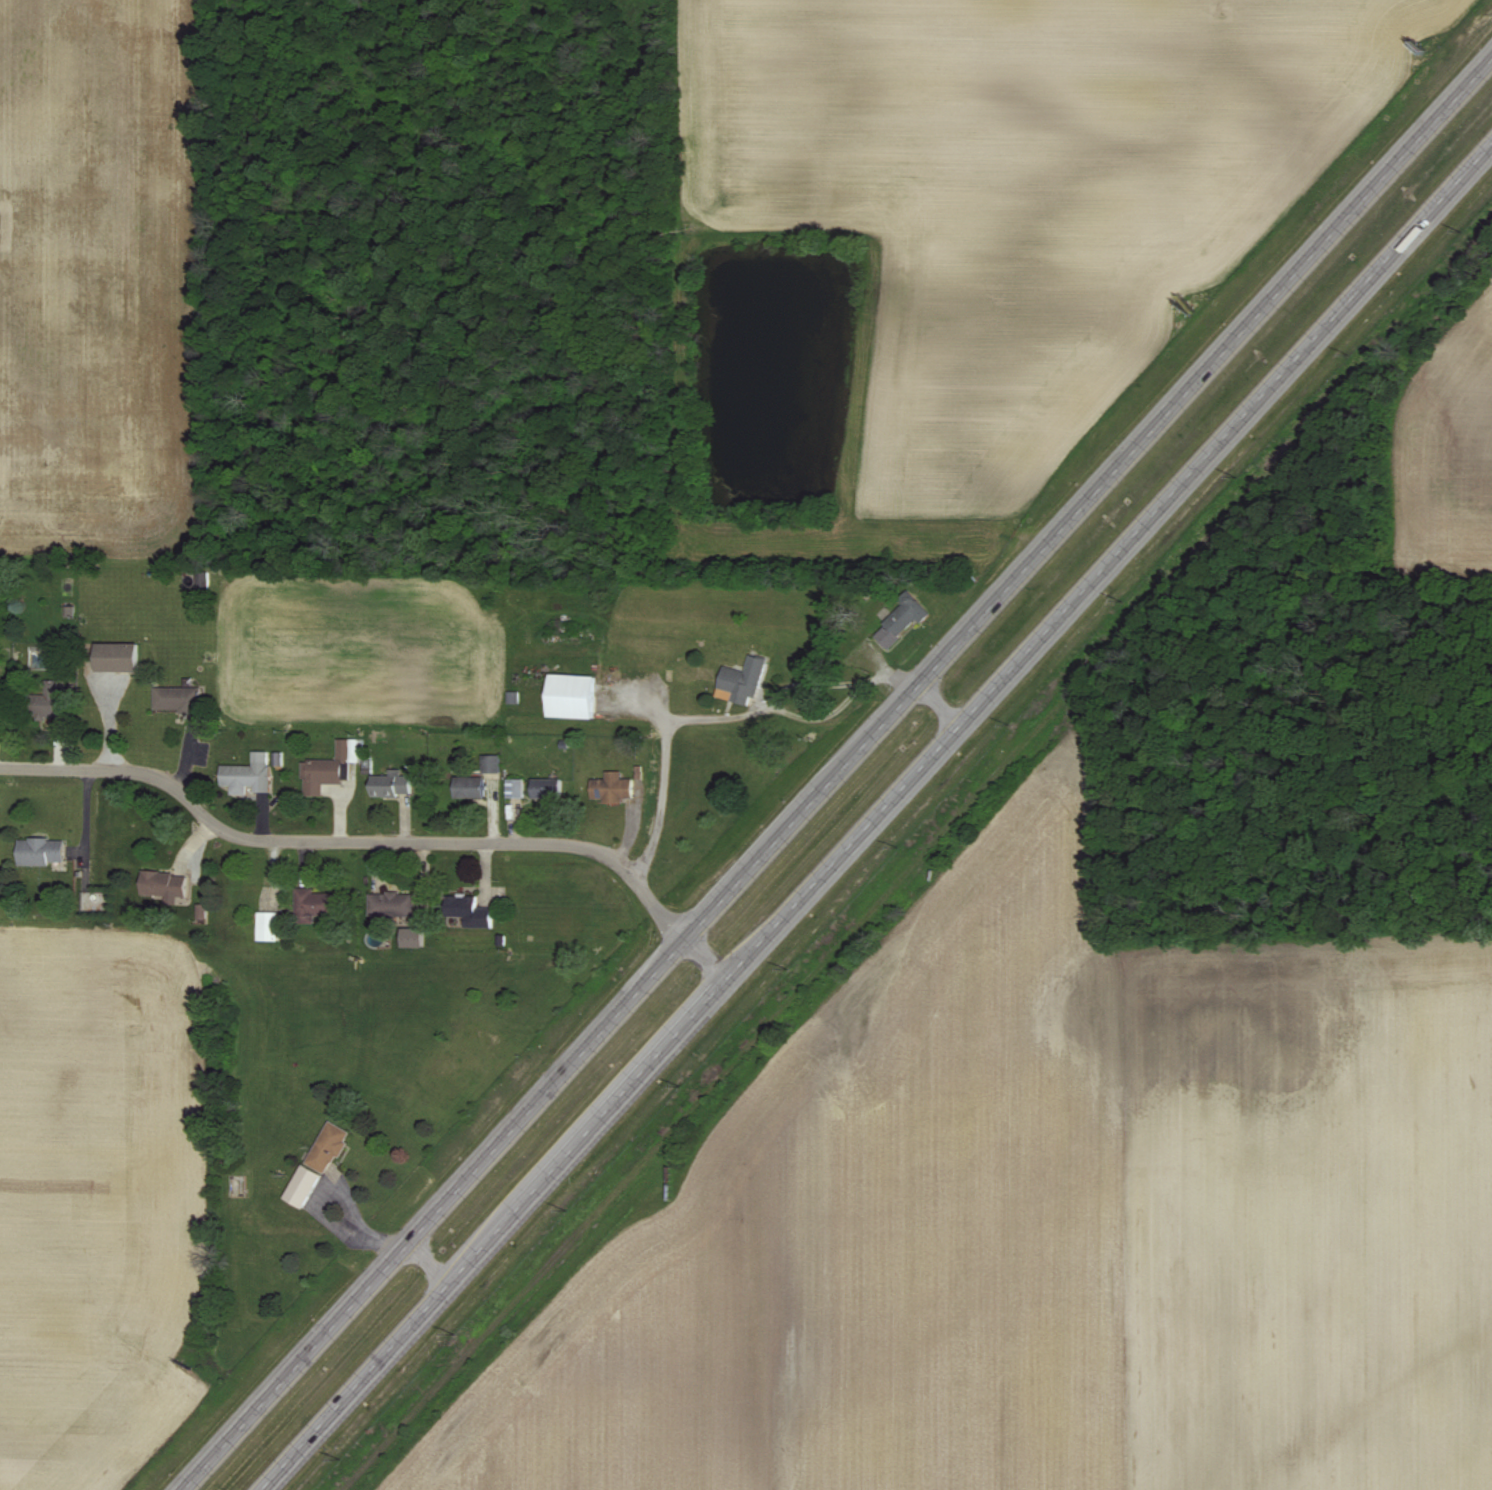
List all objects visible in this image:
building: (902, 620)
building: (116, 657)
building: (742, 681)
building: (570, 696)
building: (175, 699)
building: (49, 703)
road: (942, 703)
road: (722, 715)
building: (491, 764)
building: (328, 768)
building: (248, 775)
road: (836, 775)
building: (391, 785)
building: (468, 787)
building: (516, 788)
building: (611, 788)
building: (545, 789)
road: (877, 816)
road: (352, 841)
building: (40, 852)
building: (162, 885)
building: (310, 905)
building: (391, 905)
building: (200, 911)
building: (468, 911)
building: (268, 926)
building: (411, 938)
road: (708, 958)
building: (327, 1148)
building: (302, 1187)
road: (429, 1262)

